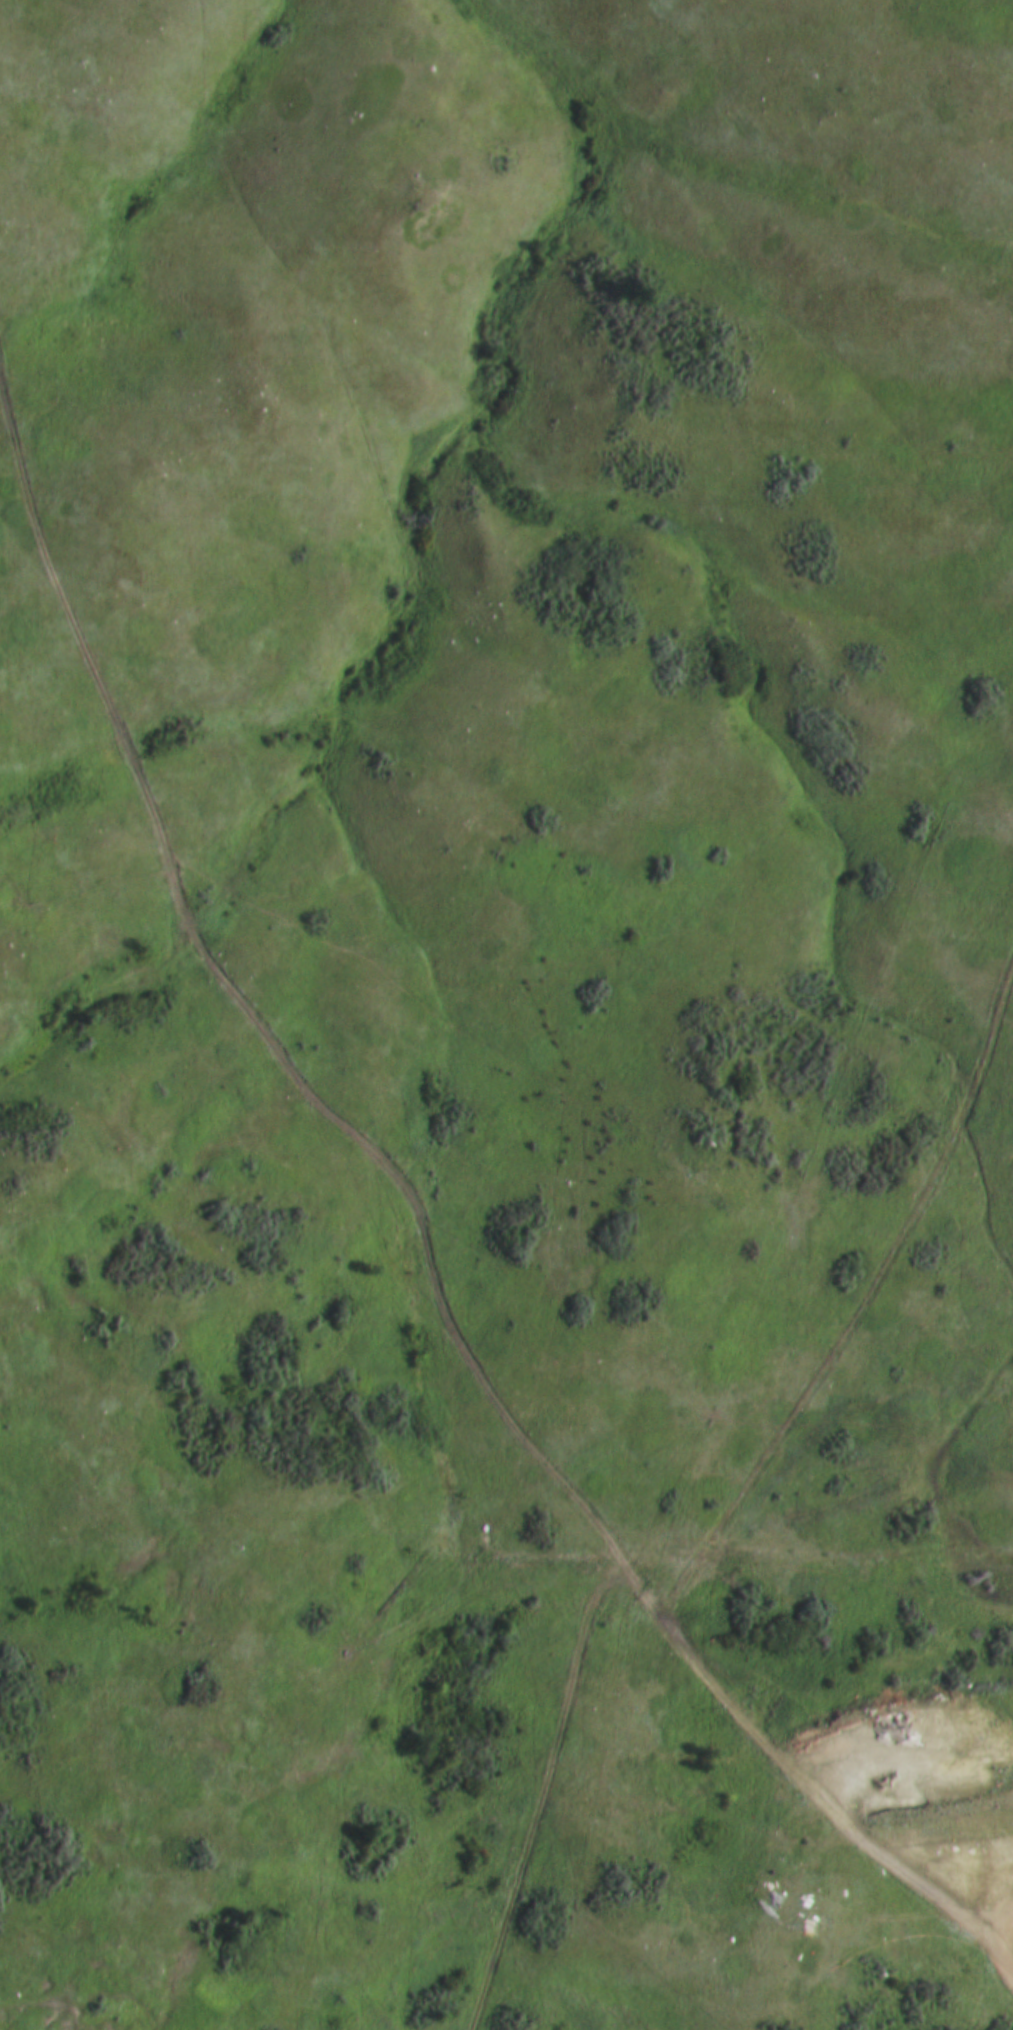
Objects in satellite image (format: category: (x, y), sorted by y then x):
building: (728, 1582)

